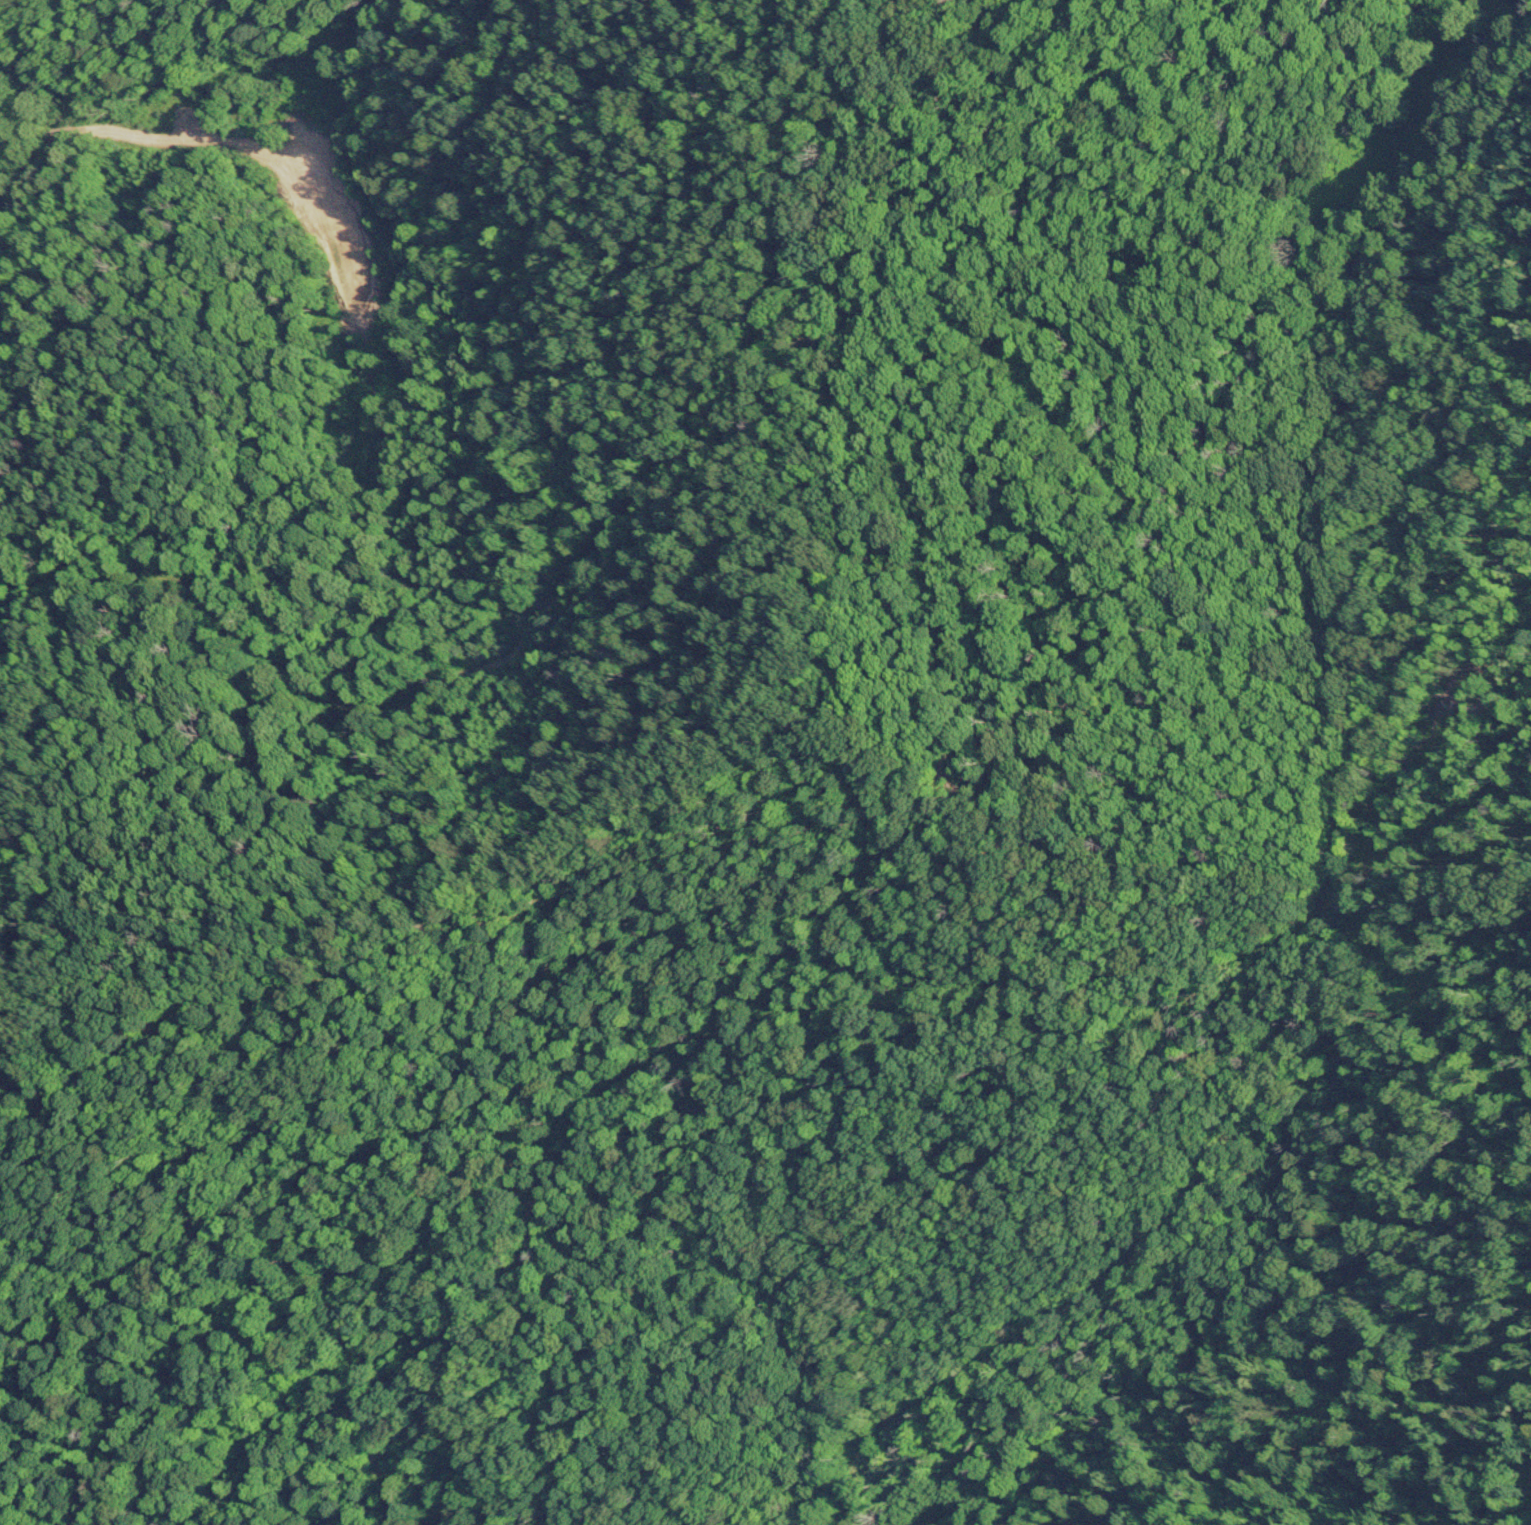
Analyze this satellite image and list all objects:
road: (1313, 855)
road: (382, 1168)

